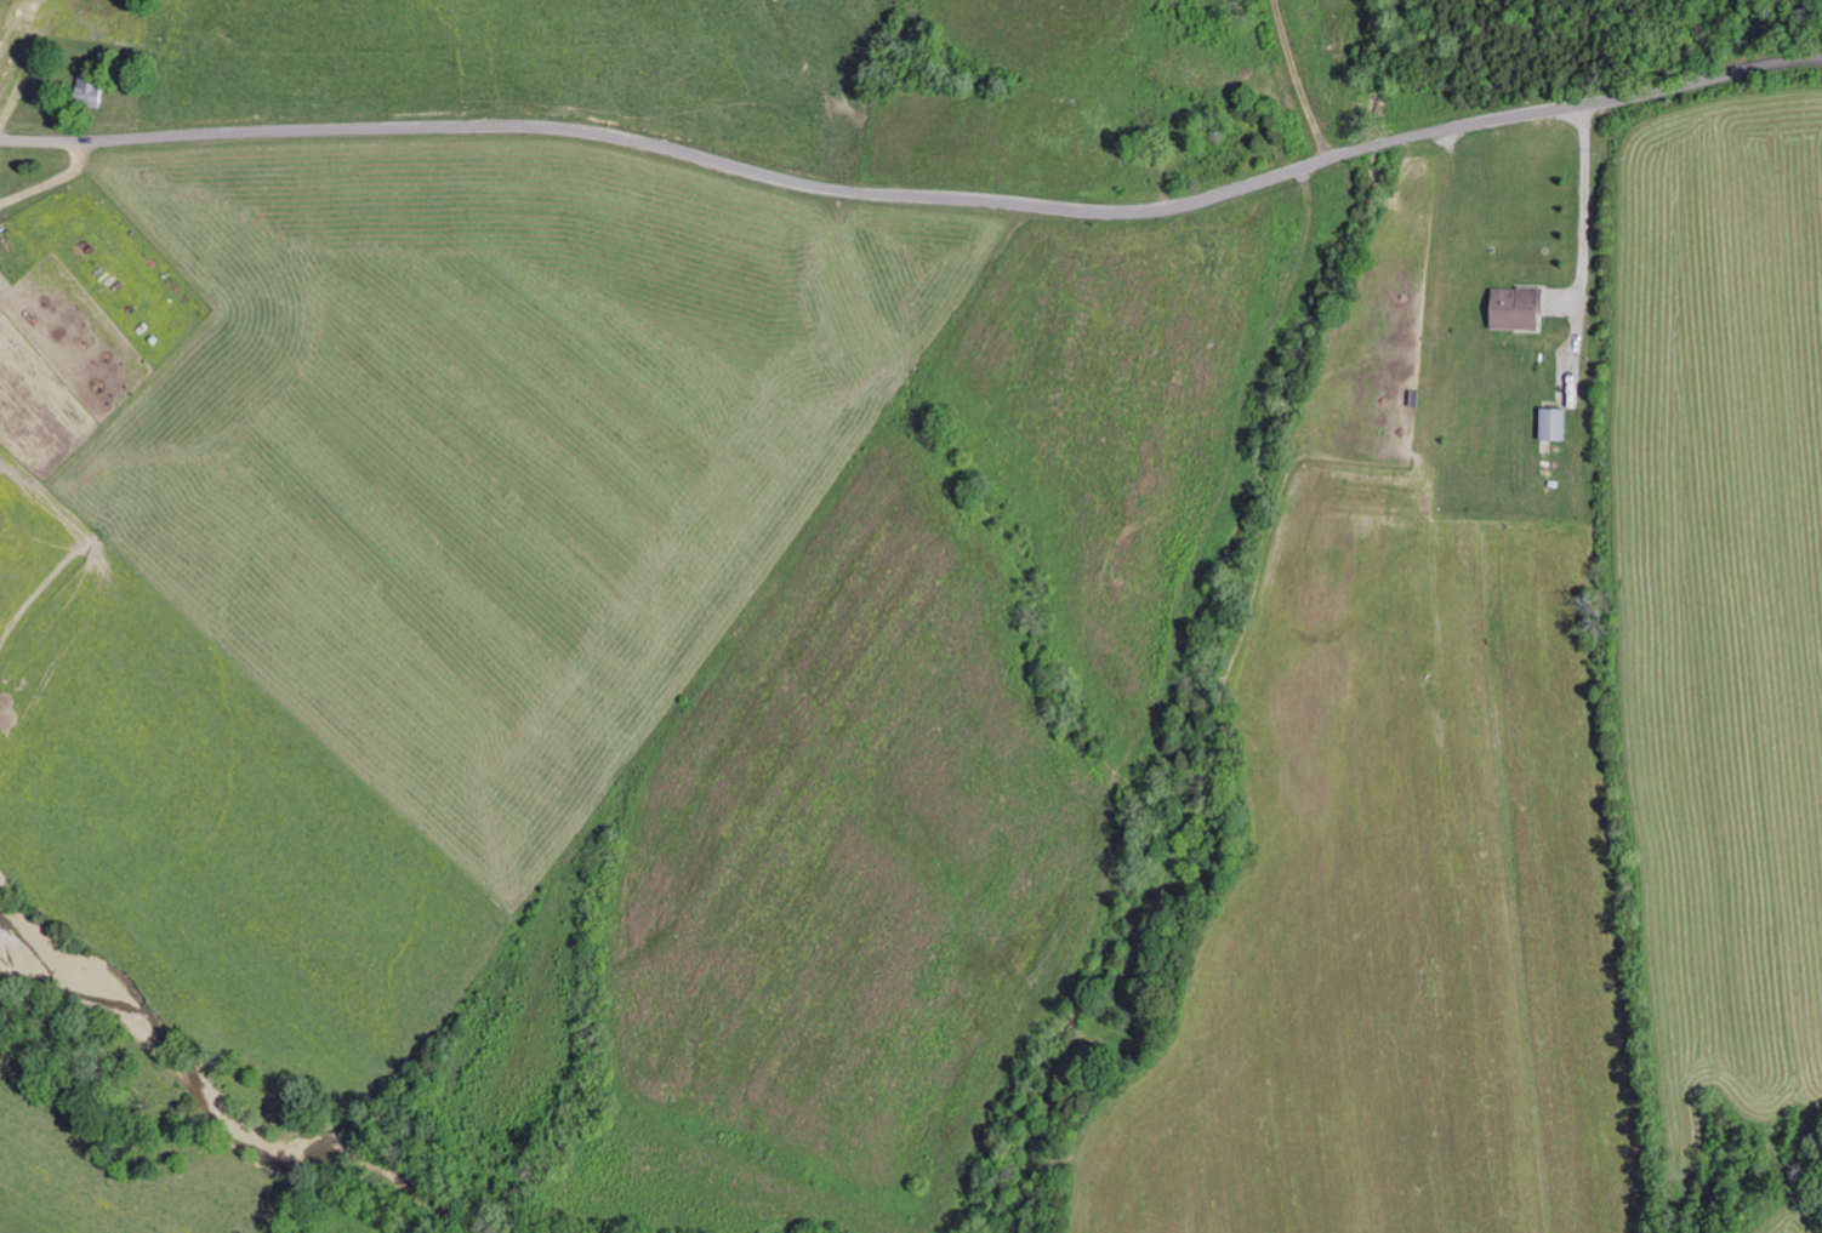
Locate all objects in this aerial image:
road: (916, 195)
building: (1520, 307)
building: (1555, 423)

